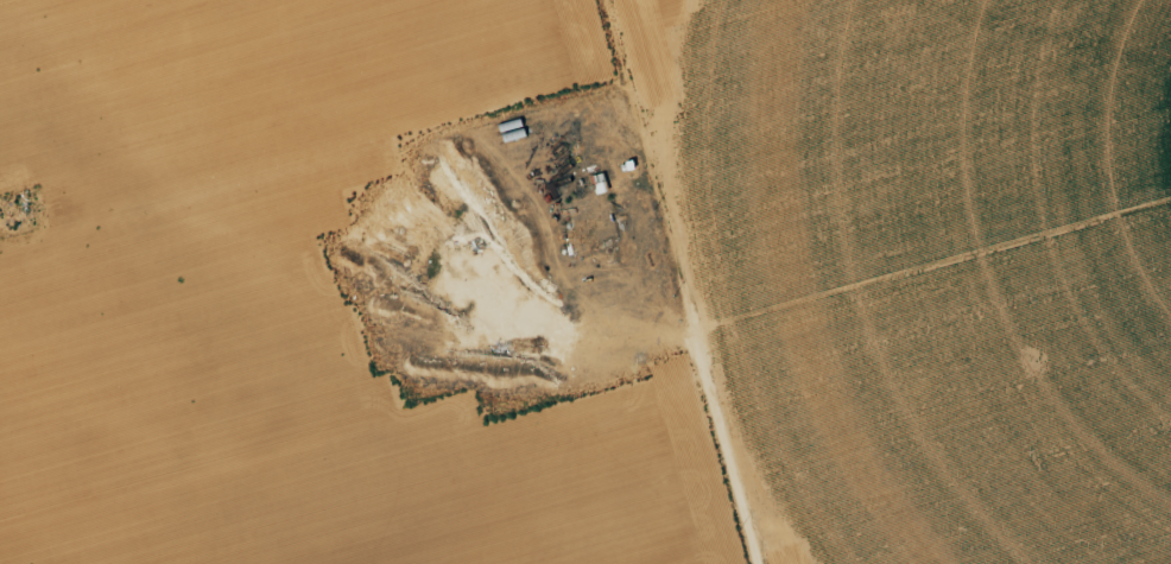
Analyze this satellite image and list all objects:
road: (685, 324)

